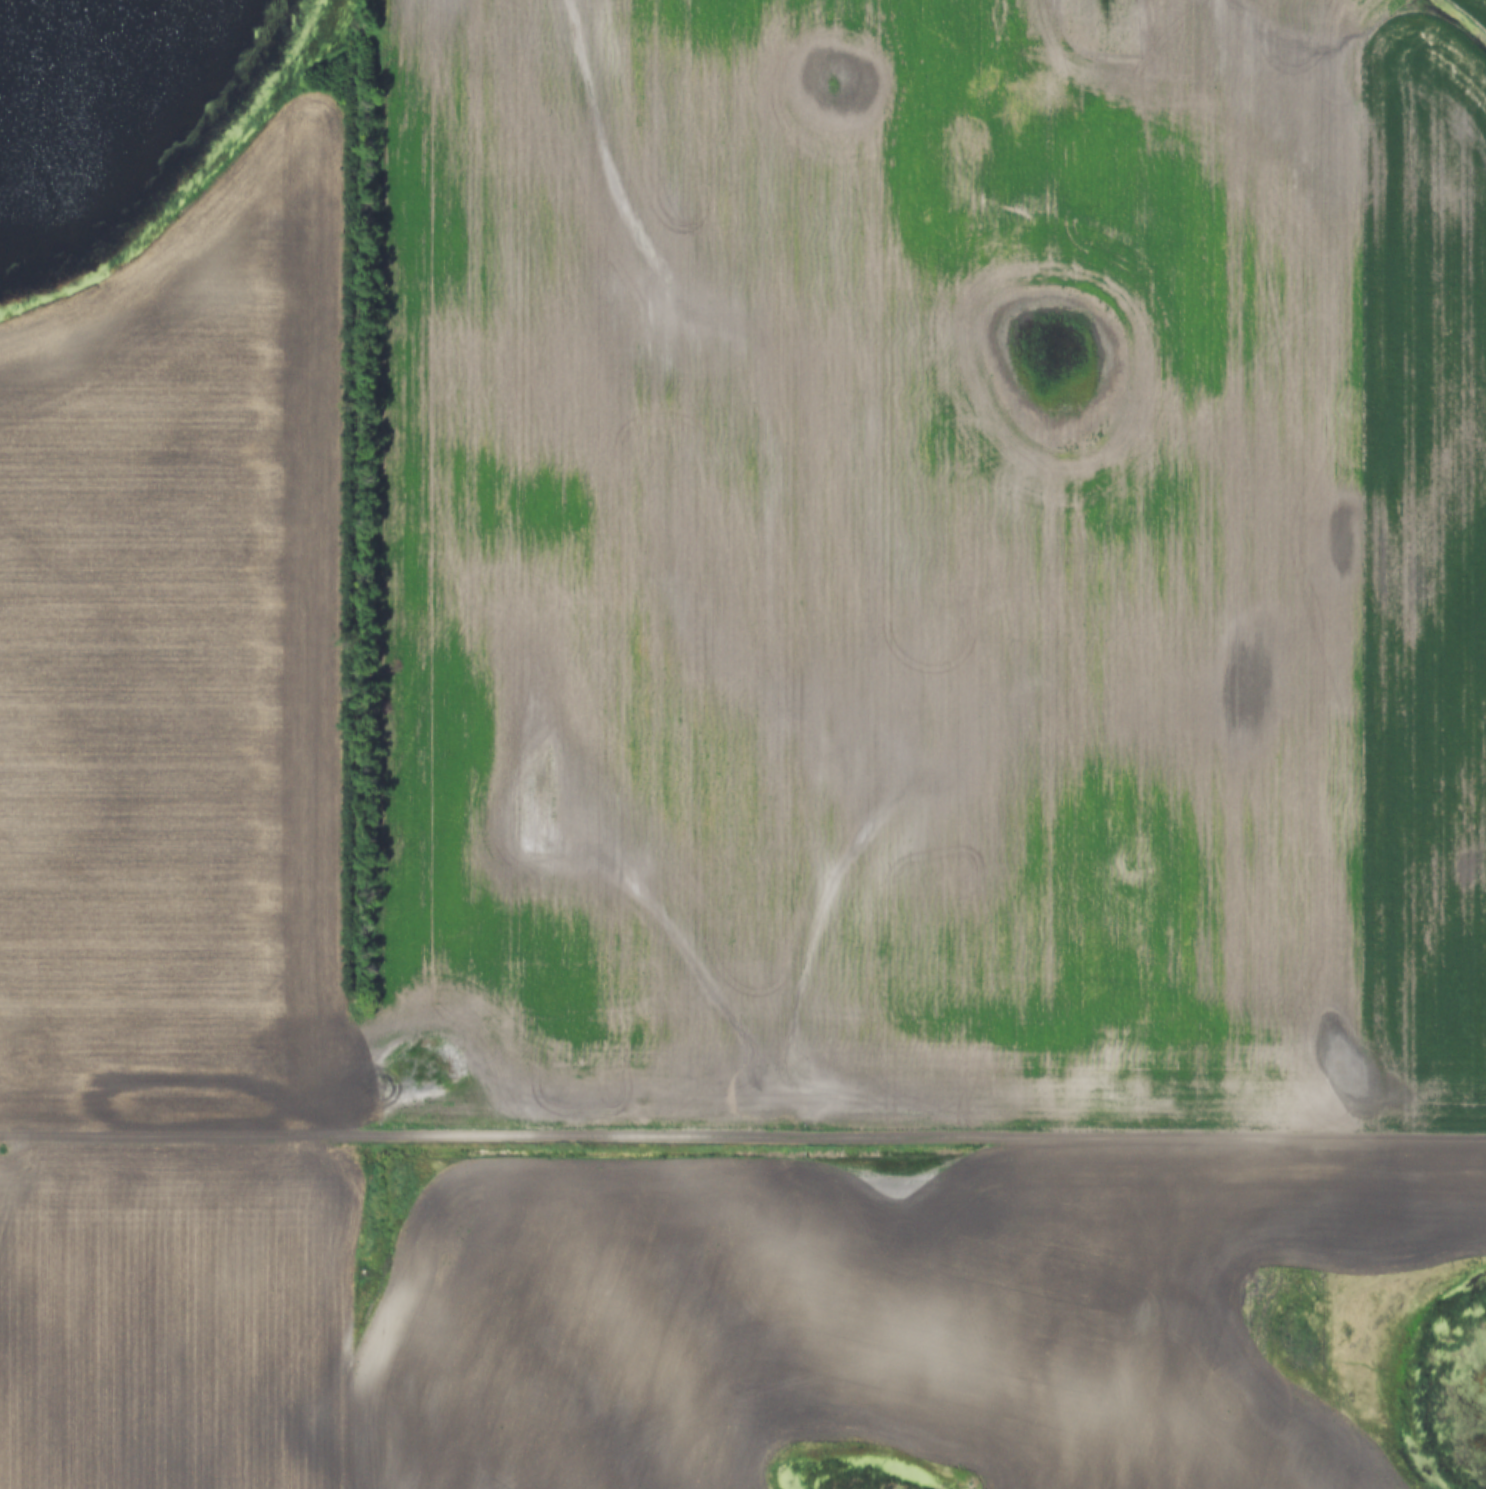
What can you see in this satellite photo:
road: (743, 1139)

